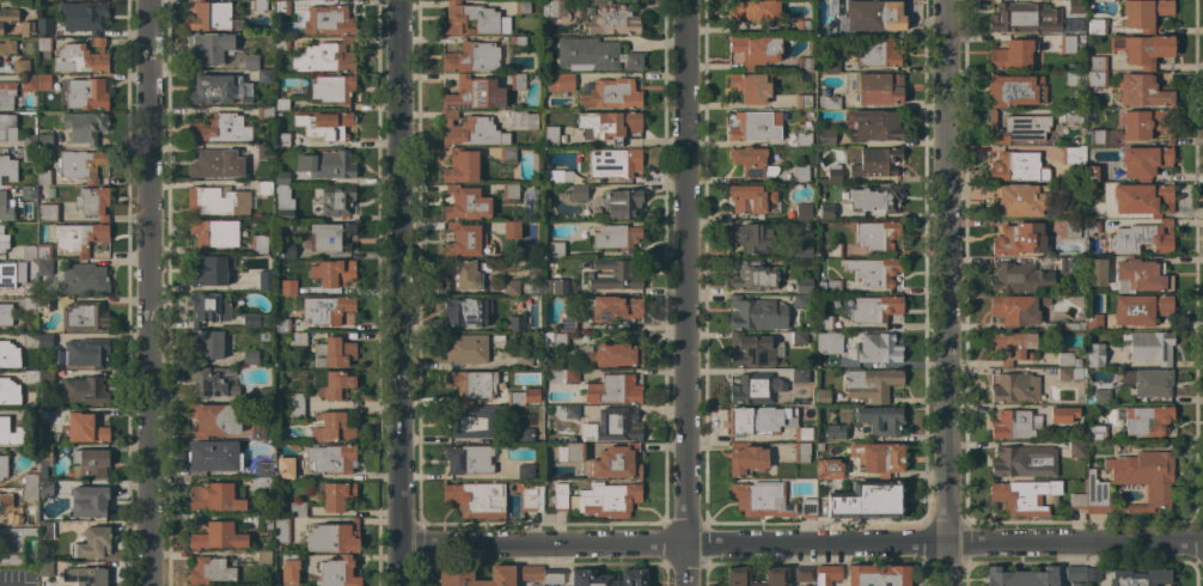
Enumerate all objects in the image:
building: (258, 5)
building: (521, 6)
building: (1074, 6)
building: (281, 7)
building: (552, 7)
building: (756, 12)
building: (1144, 13)
building: (873, 14)
building: (83, 16)
building: (209, 16)
building: (7, 17)
building: (607, 17)
building: (477, 18)
building: (1024, 18)
building: (329, 20)
building: (43, 26)
building: (802, 26)
building: (1095, 26)
building: (26, 28)
building: (518, 41)
building: (281, 43)
building: (1067, 44)
building: (7, 47)
building: (43, 47)
building: (209, 47)
building: (755, 49)
building: (1142, 49)
building: (877, 53)
building: (594, 55)
building: (1012, 55)
building: (325, 56)
building: (80, 57)
building: (471, 57)
building: (250, 62)
building: (802, 63)
building: (1098, 63)
building: (828, 66)
building: (20, 67)
building: (264, 77)
building: (1070, 78)
building: (1098, 79)
building: (43, 81)
building: (517, 81)
building: (28, 83)
building: (560, 83)
building: (749, 87)
building: (878, 88)
building: (219, 90)
building: (329, 90)
building: (1014, 90)
building: (1143, 90)
building: (6, 93)
building: (474, 93)
building: (609, 93)
building: (86, 94)
building: (801, 100)
building: (830, 103)
building: (281, 104)
building: (264, 112)
building: (1070, 116)
building: (524, 120)
building: (609, 124)
building: (873, 124)
building: (1146, 124)
building: (6, 126)
building: (325, 126)
building: (756, 126)
building: (84, 127)
building: (219, 128)
building: (1018, 128)
building: (470, 130)
building: (550, 135)
building: (825, 136)
building: (1095, 138)
building: (281, 139)
building: (804, 139)
building: (44, 141)
building: (29, 148)
building: (264, 151)
building: (507, 154)
building: (1073, 155)
building: (751, 161)
building: (877, 161)
building: (1144, 161)
building: (613, 163)
building: (80, 164)
building: (215, 164)
building: (326, 165)
building: (1018, 166)
building: (8, 167)
building: (462, 167)
building: (800, 170)
building: (833, 173)
building: (1093, 173)
building: (555, 176)
building: (43, 177)
building: (281, 178)
building: (264, 188)
building: (29, 191)
building: (509, 191)
building: (578, 191)
building: (750, 199)
building: (877, 199)
building: (1142, 199)
building: (336, 200)
building: (1019, 200)
building: (216, 201)
building: (93, 202)
building: (283, 203)
building: (465, 203)
building: (622, 203)
building: (4, 208)
building: (804, 212)
building: (824, 212)
building: (47, 213)
building: (1092, 226)
building: (511, 228)
building: (1070, 228)
building: (213, 233)
building: (877, 234)
building: (78, 237)
building: (330, 237)
building: (615, 237)
building: (752, 237)
building: (1020, 238)
building: (1142, 238)
building: (2, 240)
building: (463, 240)
building: (258, 244)
building: (556, 249)
building: (799, 249)
building: (832, 249)
building: (29, 251)
building: (43, 251)
building: (287, 251)
building: (1067, 263)
building: (44, 267)
building: (873, 270)
building: (209, 271)
building: (1097, 271)
building: (336, 273)
building: (465, 275)
building: (612, 275)
building: (755, 275)
building: (1141, 275)
building: (14, 276)
building: (1019, 277)
building: (83, 279)
building: (264, 281)
building: (804, 285)
building: (287, 286)
building: (833, 286)
building: (509, 287)
building: (554, 287)
road: (146, 292)
road: (684, 292)
road: (947, 292)
road: (402, 293)
building: (799, 300)
building: (44, 304)
building: (613, 307)
building: (29, 309)
building: (207, 309)
building: (874, 309)
building: (1140, 309)
building: (326, 310)
building: (1016, 310)
building: (463, 311)
building: (756, 313)
building: (5, 315)
building: (84, 316)
building: (1093, 317)
building: (255, 319)
building: (825, 322)
building: (515, 323)
building: (567, 324)
building: (282, 325)
building: (1074, 325)
building: (799, 337)
building: (299, 338)
building: (497, 338)
building: (30, 340)
building: (555, 340)
building: (44, 341)
building: (206, 343)
building: (829, 343)
building: (1012, 346)
building: (1149, 347)
building: (465, 348)
building: (879, 348)
building: (750, 350)
building: (86, 352)
building: (334, 353)
building: (8, 355)
building: (612, 355)
building: (1095, 355)
building: (250, 358)
building: (523, 359)
building: (1067, 359)
building: (1069, 373)
building: (570, 374)
building: (799, 374)
building: (30, 377)
building: (44, 377)
building: (212, 381)
building: (1149, 381)
building: (871, 384)
building: (335, 385)
building: (470, 385)
building: (755, 387)
building: (1015, 387)
building: (612, 390)
building: (84, 391)
building: (8, 392)
building: (265, 395)
building: (823, 396)
building: (523, 397)
building: (1101, 397)
building: (297, 399)
building: (570, 411)
building: (297, 413)
building: (807, 413)
building: (30, 414)
building: (1062, 414)
building: (214, 420)
building: (758, 420)
building: (880, 420)
building: (1144, 420)
building: (469, 422)
building: (44, 425)
building: (1013, 425)
building: (612, 426)
building: (84, 428)
building: (331, 428)
building: (257, 432)
building: (833, 432)
building: (11, 433)
building: (1095, 433)
building: (802, 434)
building: (525, 435)
building: (819, 446)
building: (544, 450)
building: (1076, 450)
building: (570, 452)
building: (801, 452)
building: (213, 457)
building: (878, 457)
building: (44, 458)
building: (331, 459)
building: (468, 459)
building: (746, 459)
building: (1024, 462)
building: (88, 463)
building: (615, 463)
building: (2, 466)
building: (285, 468)
building: (263, 469)
building: (829, 469)
building: (525, 471)
building: (29, 480)
building: (1132, 481)
building: (262, 484)
building: (50, 488)
building: (331, 494)
building: (29, 496)
building: (218, 496)
building: (530, 496)
building: (1024, 496)
building: (476, 499)
building: (598, 499)
building: (762, 499)
building: (867, 500)
building: (90, 501)
building: (1077, 501)
building: (298, 508)
building: (808, 508)
building: (7, 509)
building: (263, 521)
building: (45, 530)
building: (282, 530)
building: (219, 536)
building: (332, 537)
building: (93, 542)
building: (13, 545)
road: (802, 545)
building: (263, 557)
building: (291, 567)
building: (44, 568)
building: (208, 570)
building: (337, 572)
building: (1075, 573)
building: (532, 574)
building: (805, 574)
building: (828, 574)
building: (1093, 574)
building: (85, 575)
building: (878, 575)
building: (454, 576)
building: (552, 576)
building: (775, 576)
building: (1021, 576)
building: (1141, 576)
building: (607, 578)
building: (1077, 584)
building: (805, 585)

